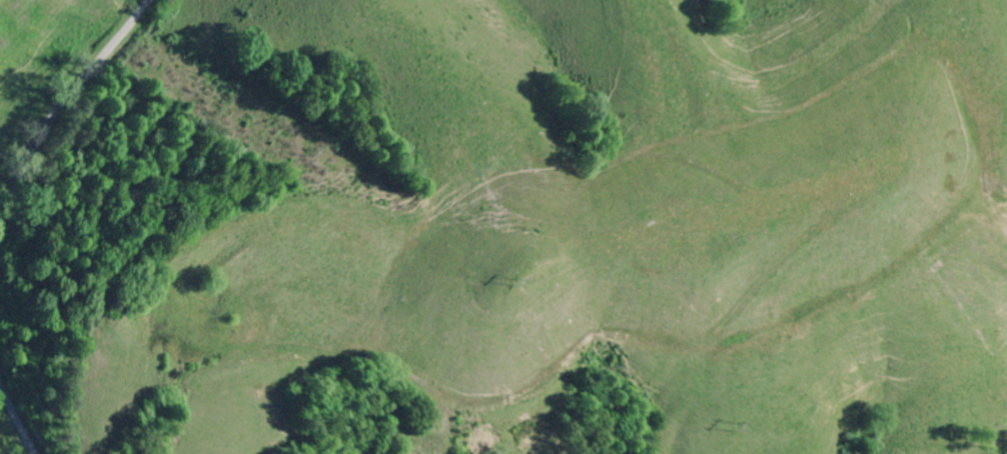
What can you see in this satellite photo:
road: (60, 107)
road: (17, 415)
power tower: (741, 427)

